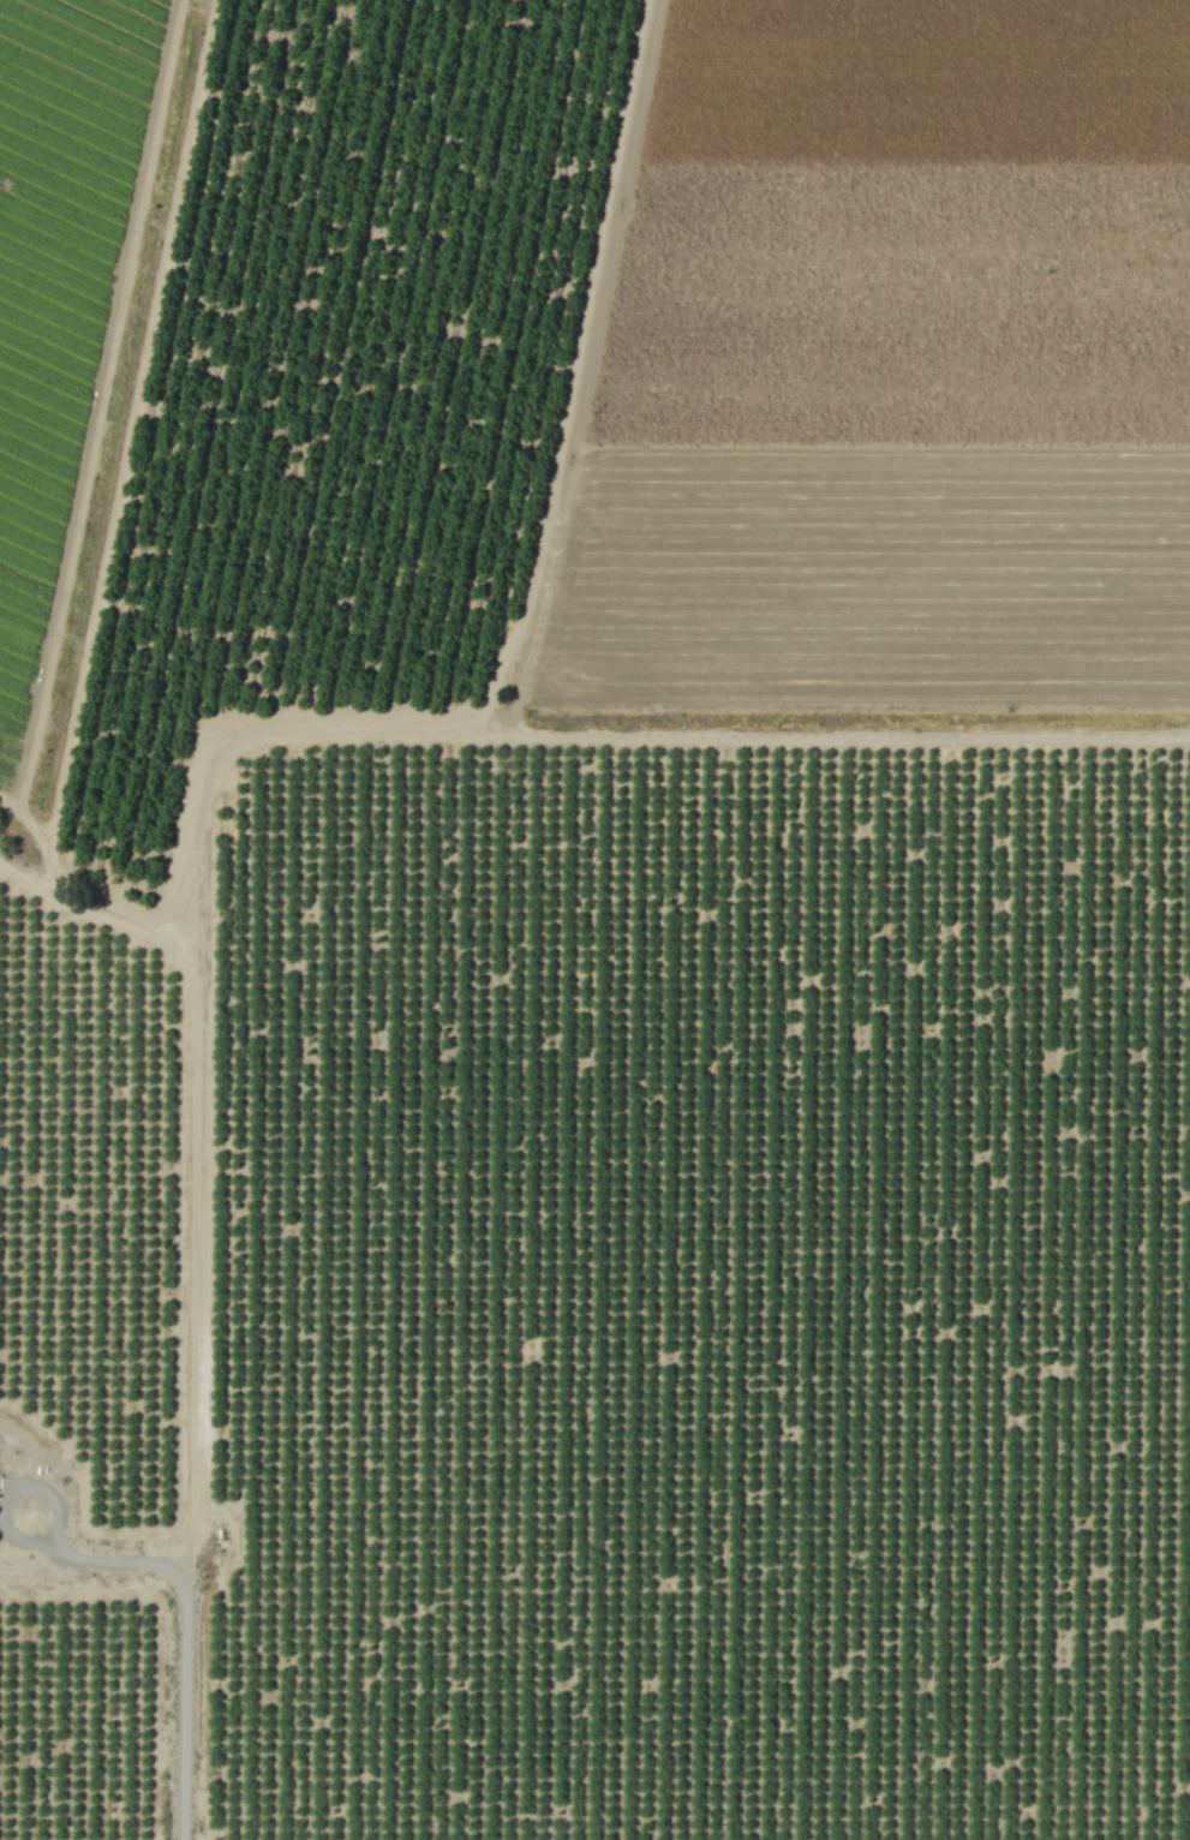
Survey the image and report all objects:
road: (14, 1493)
road: (187, 1641)

